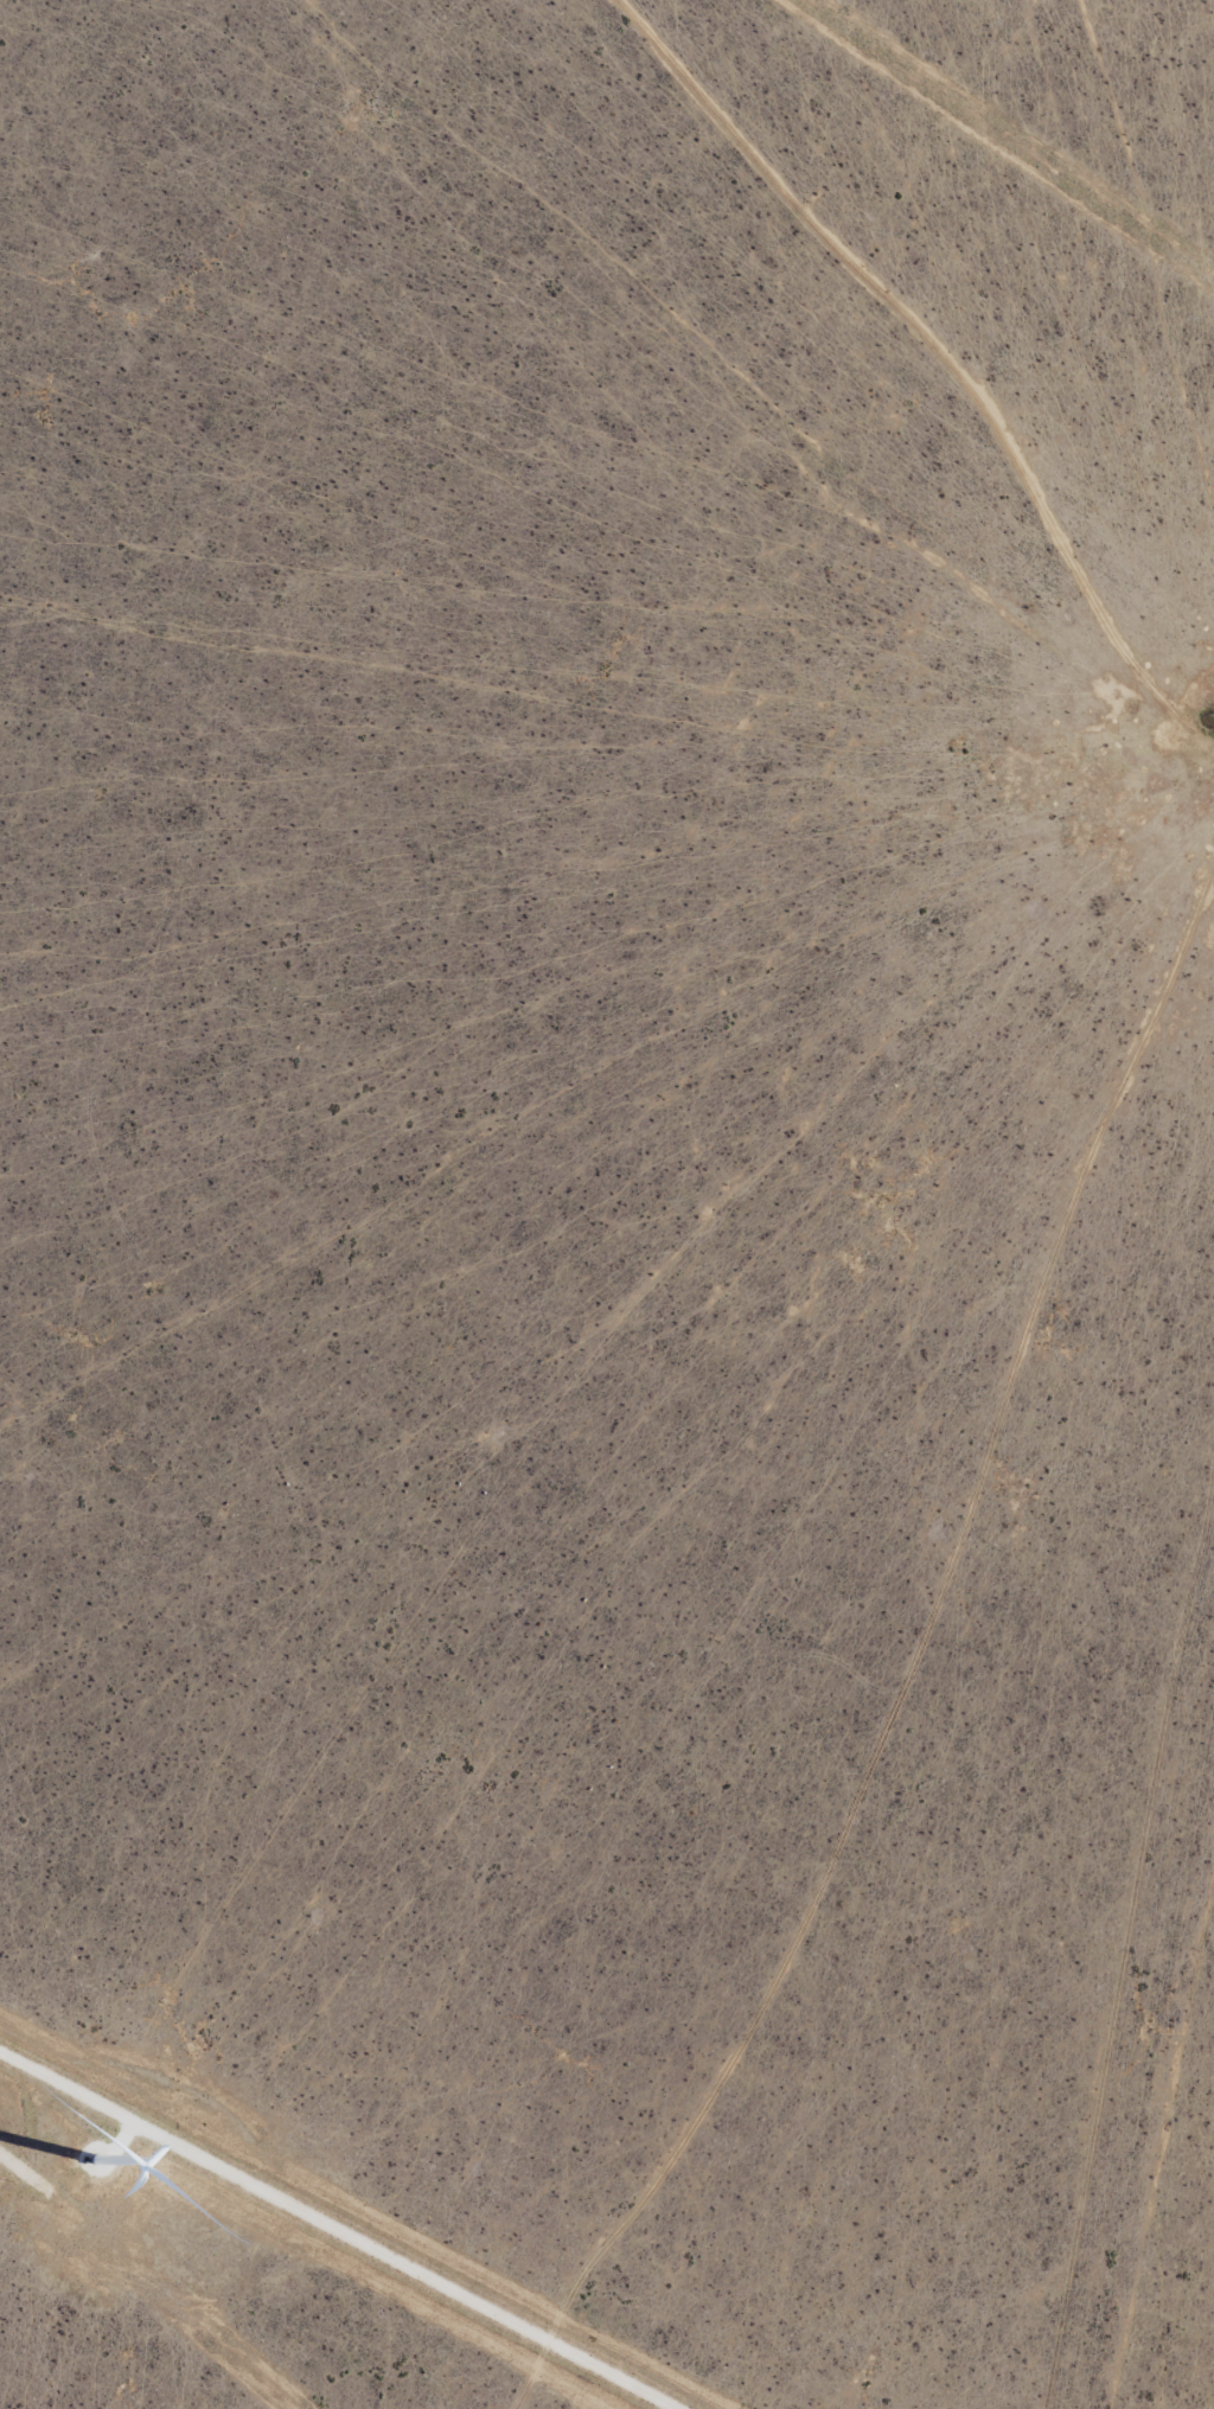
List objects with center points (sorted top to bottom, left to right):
wind turbine: (94, 2126)

